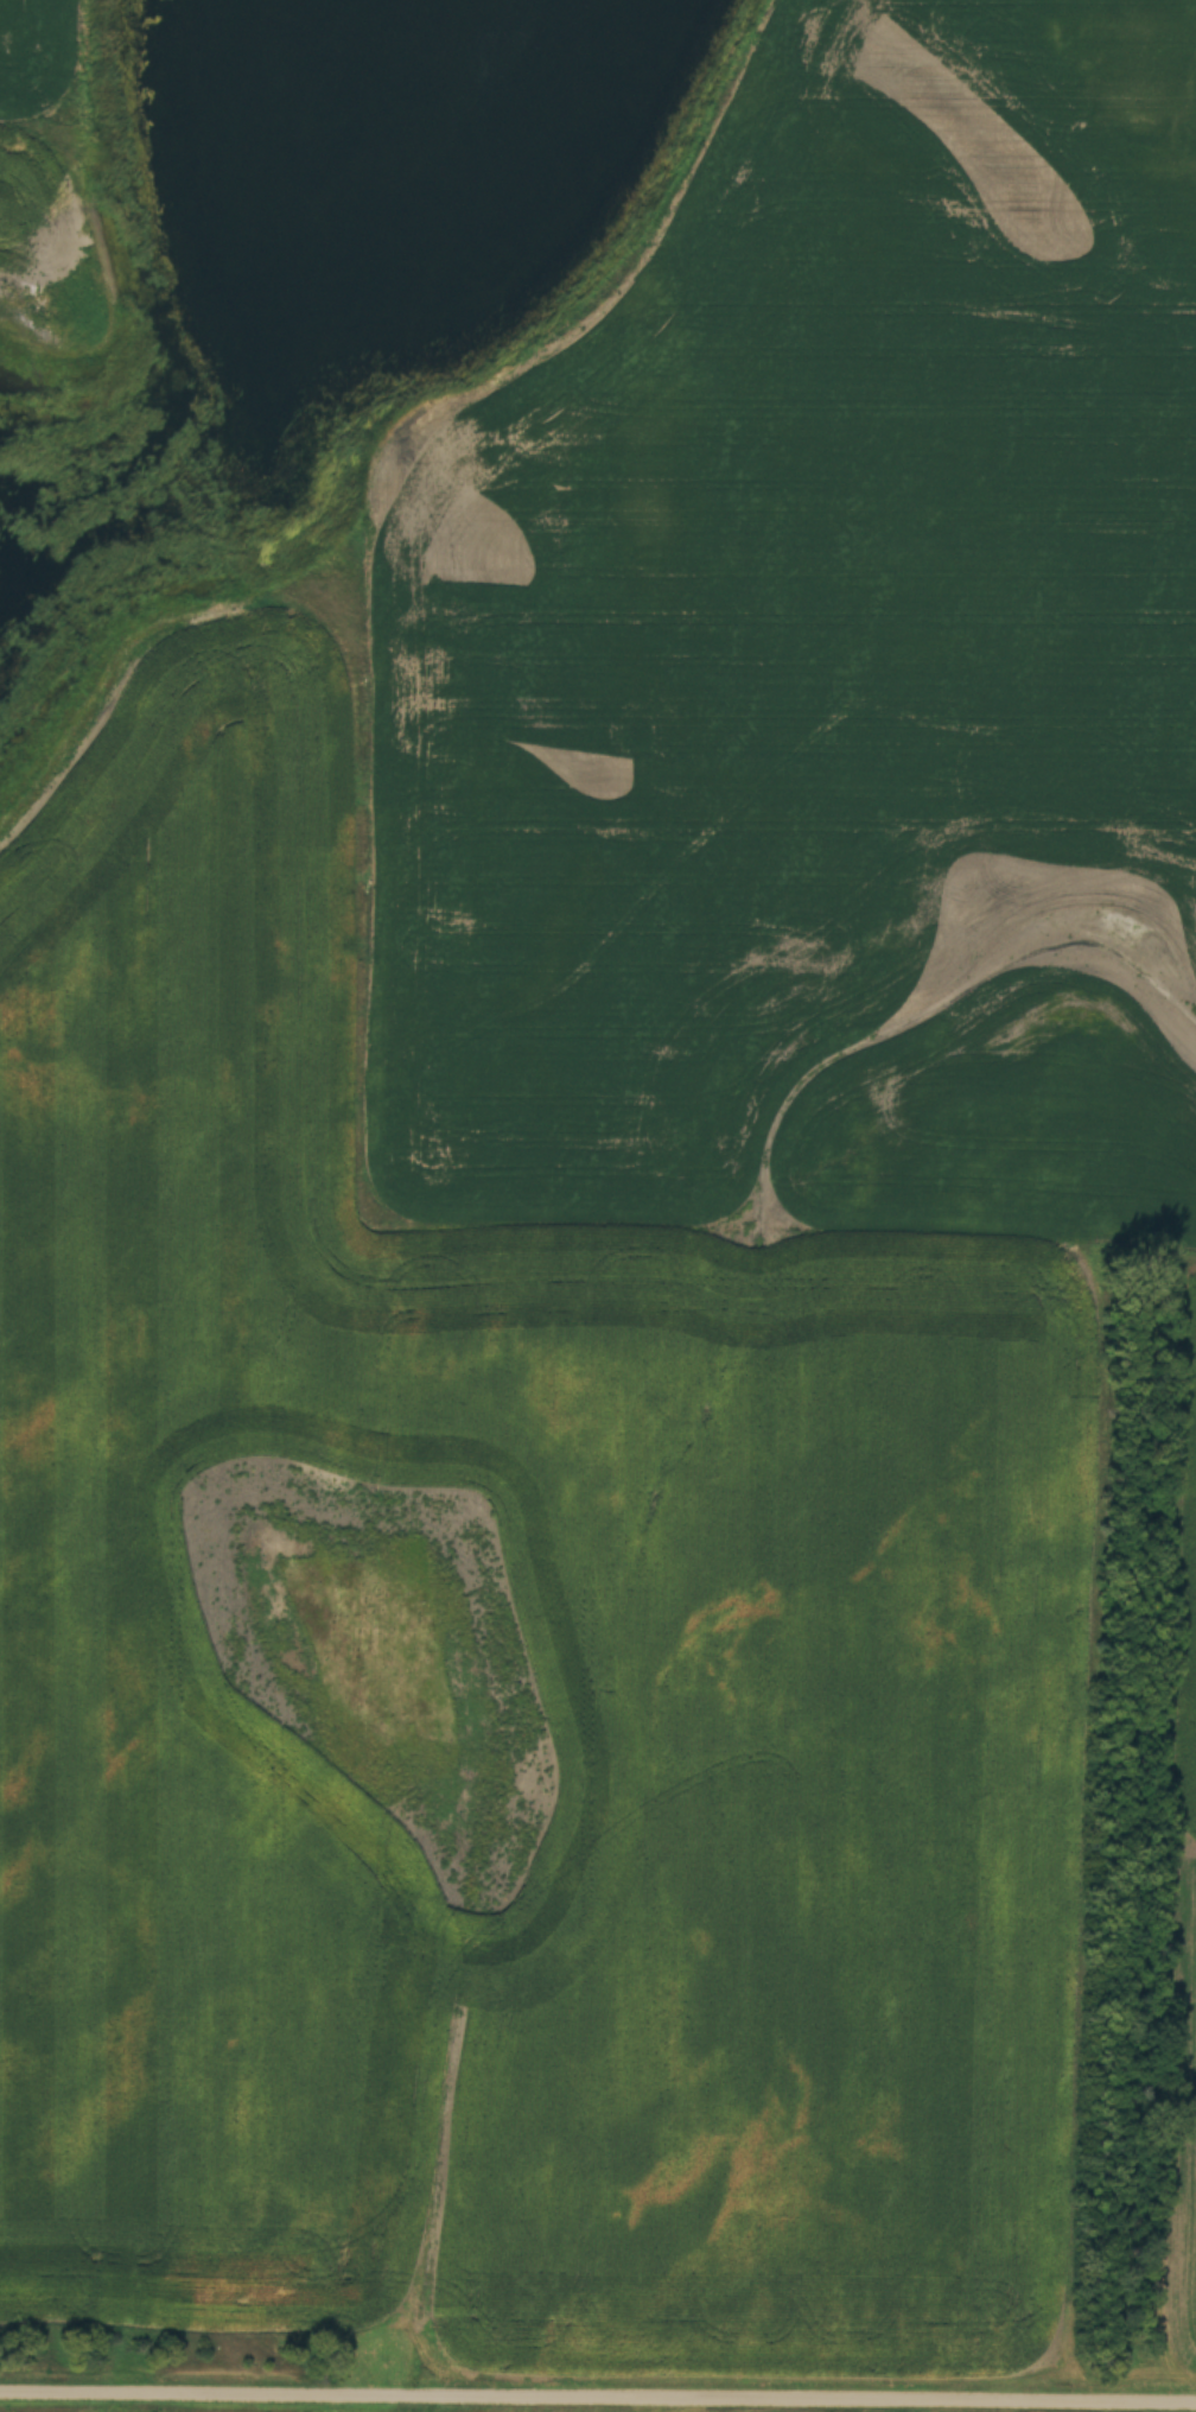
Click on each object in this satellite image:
road: (597, 2395)

